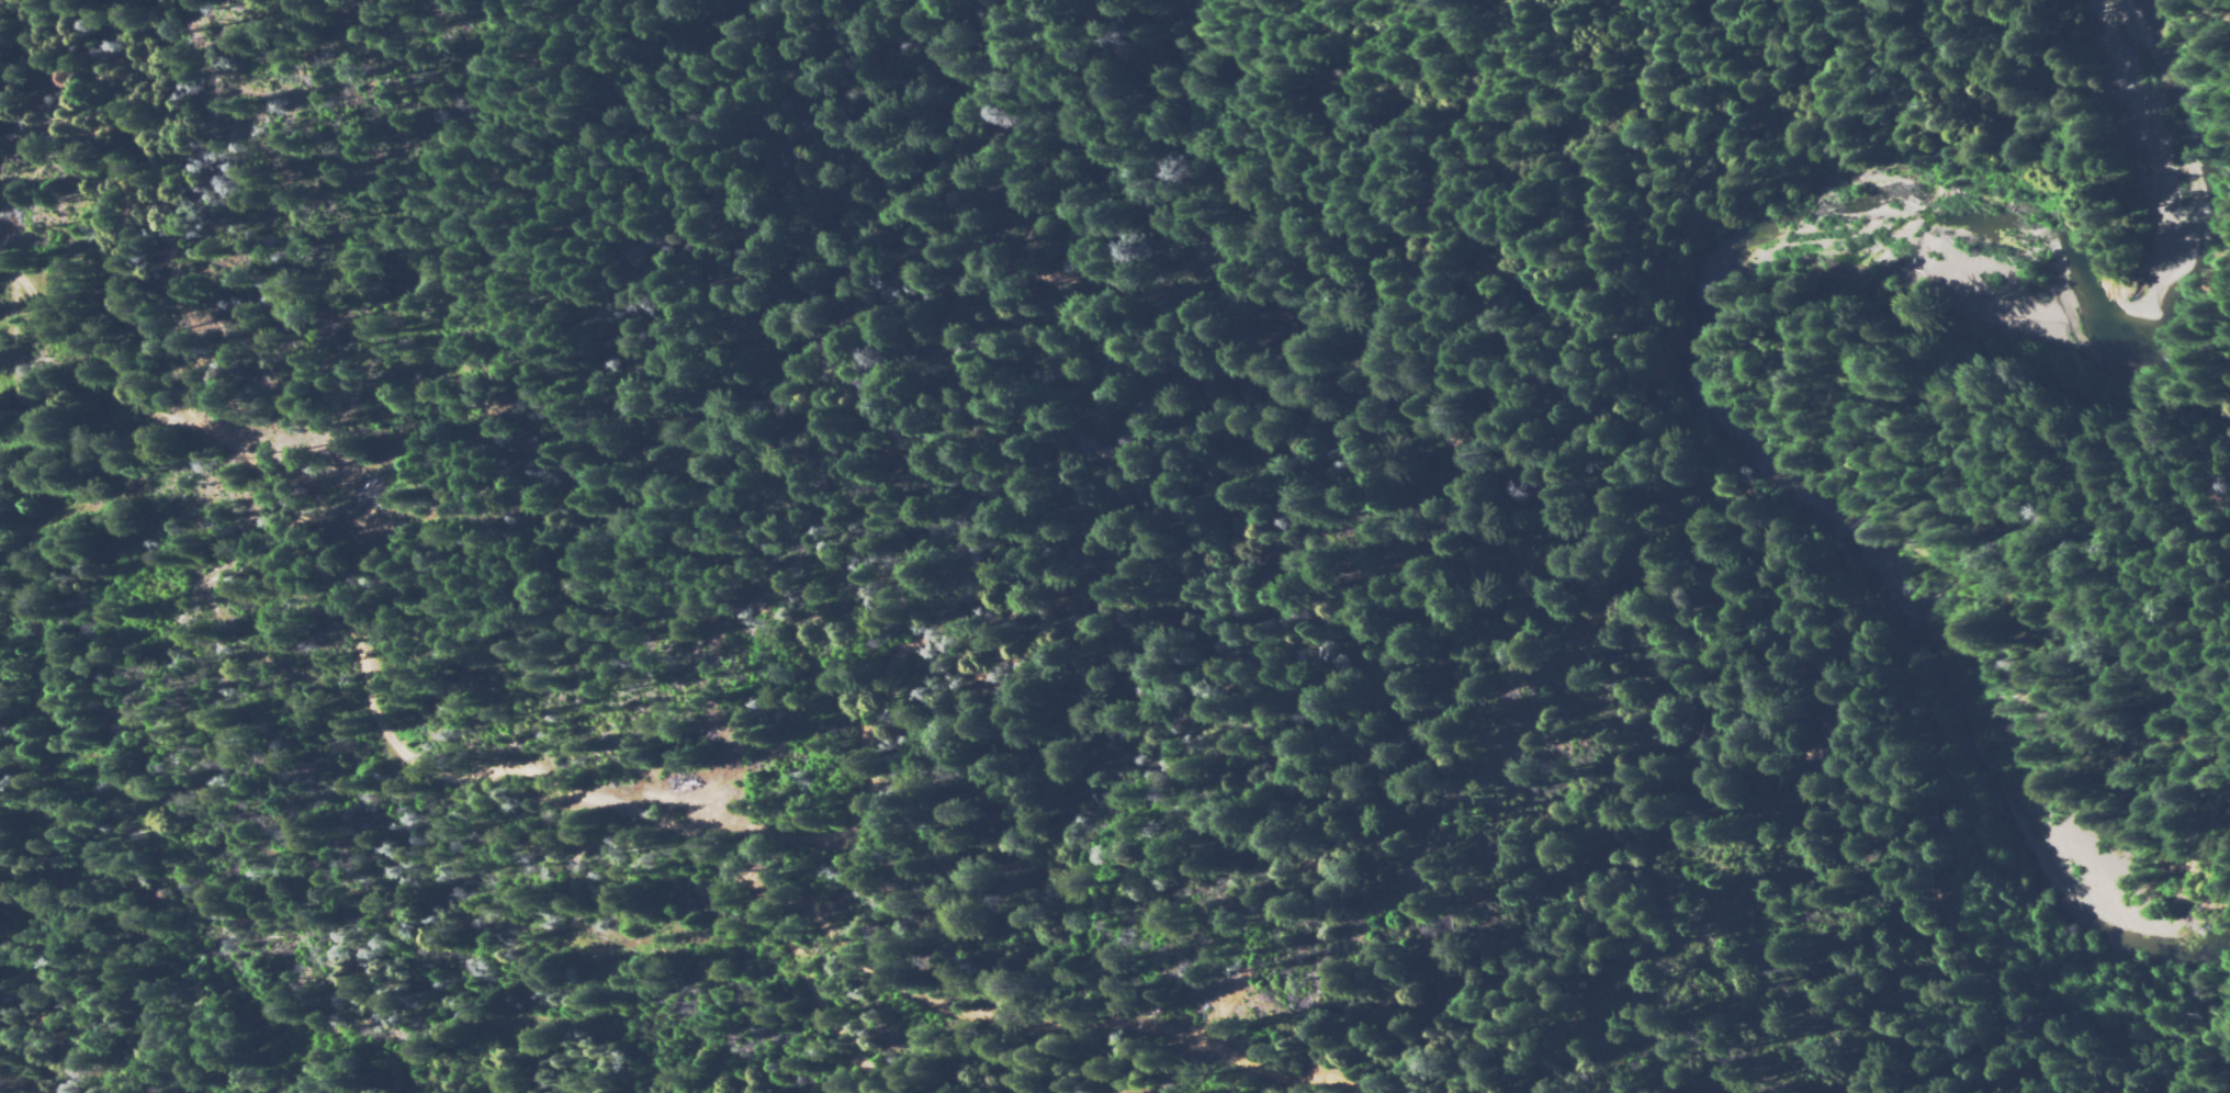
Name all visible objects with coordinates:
river: (1683, 318)

